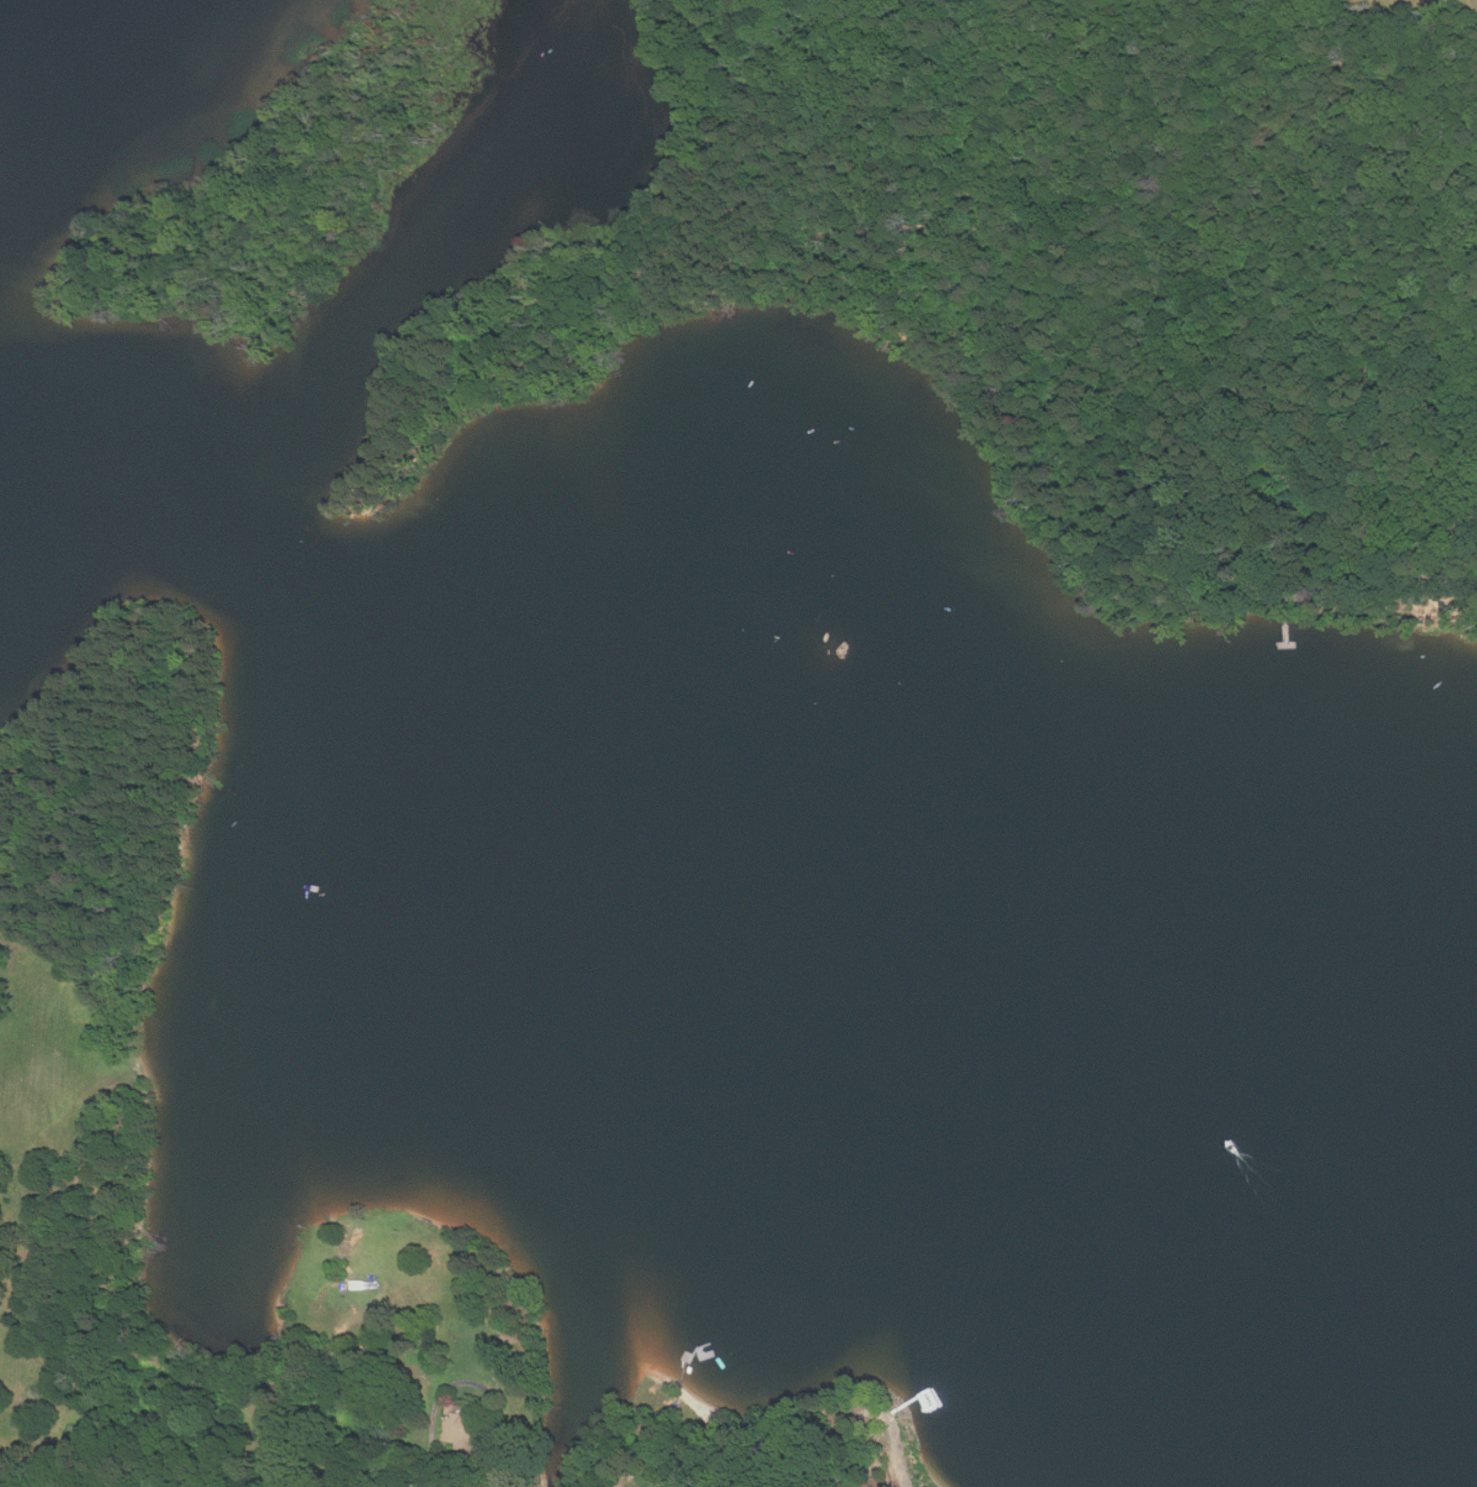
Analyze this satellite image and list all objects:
road: (806, 259)
road: (386, 449)
road: (1239, 540)
road: (1447, 597)
road: (1286, 599)
road: (1287, 625)
road: (1289, 642)
building: (359, 1285)
road: (433, 1421)
building: (457, 1422)
building: (667, 1486)

